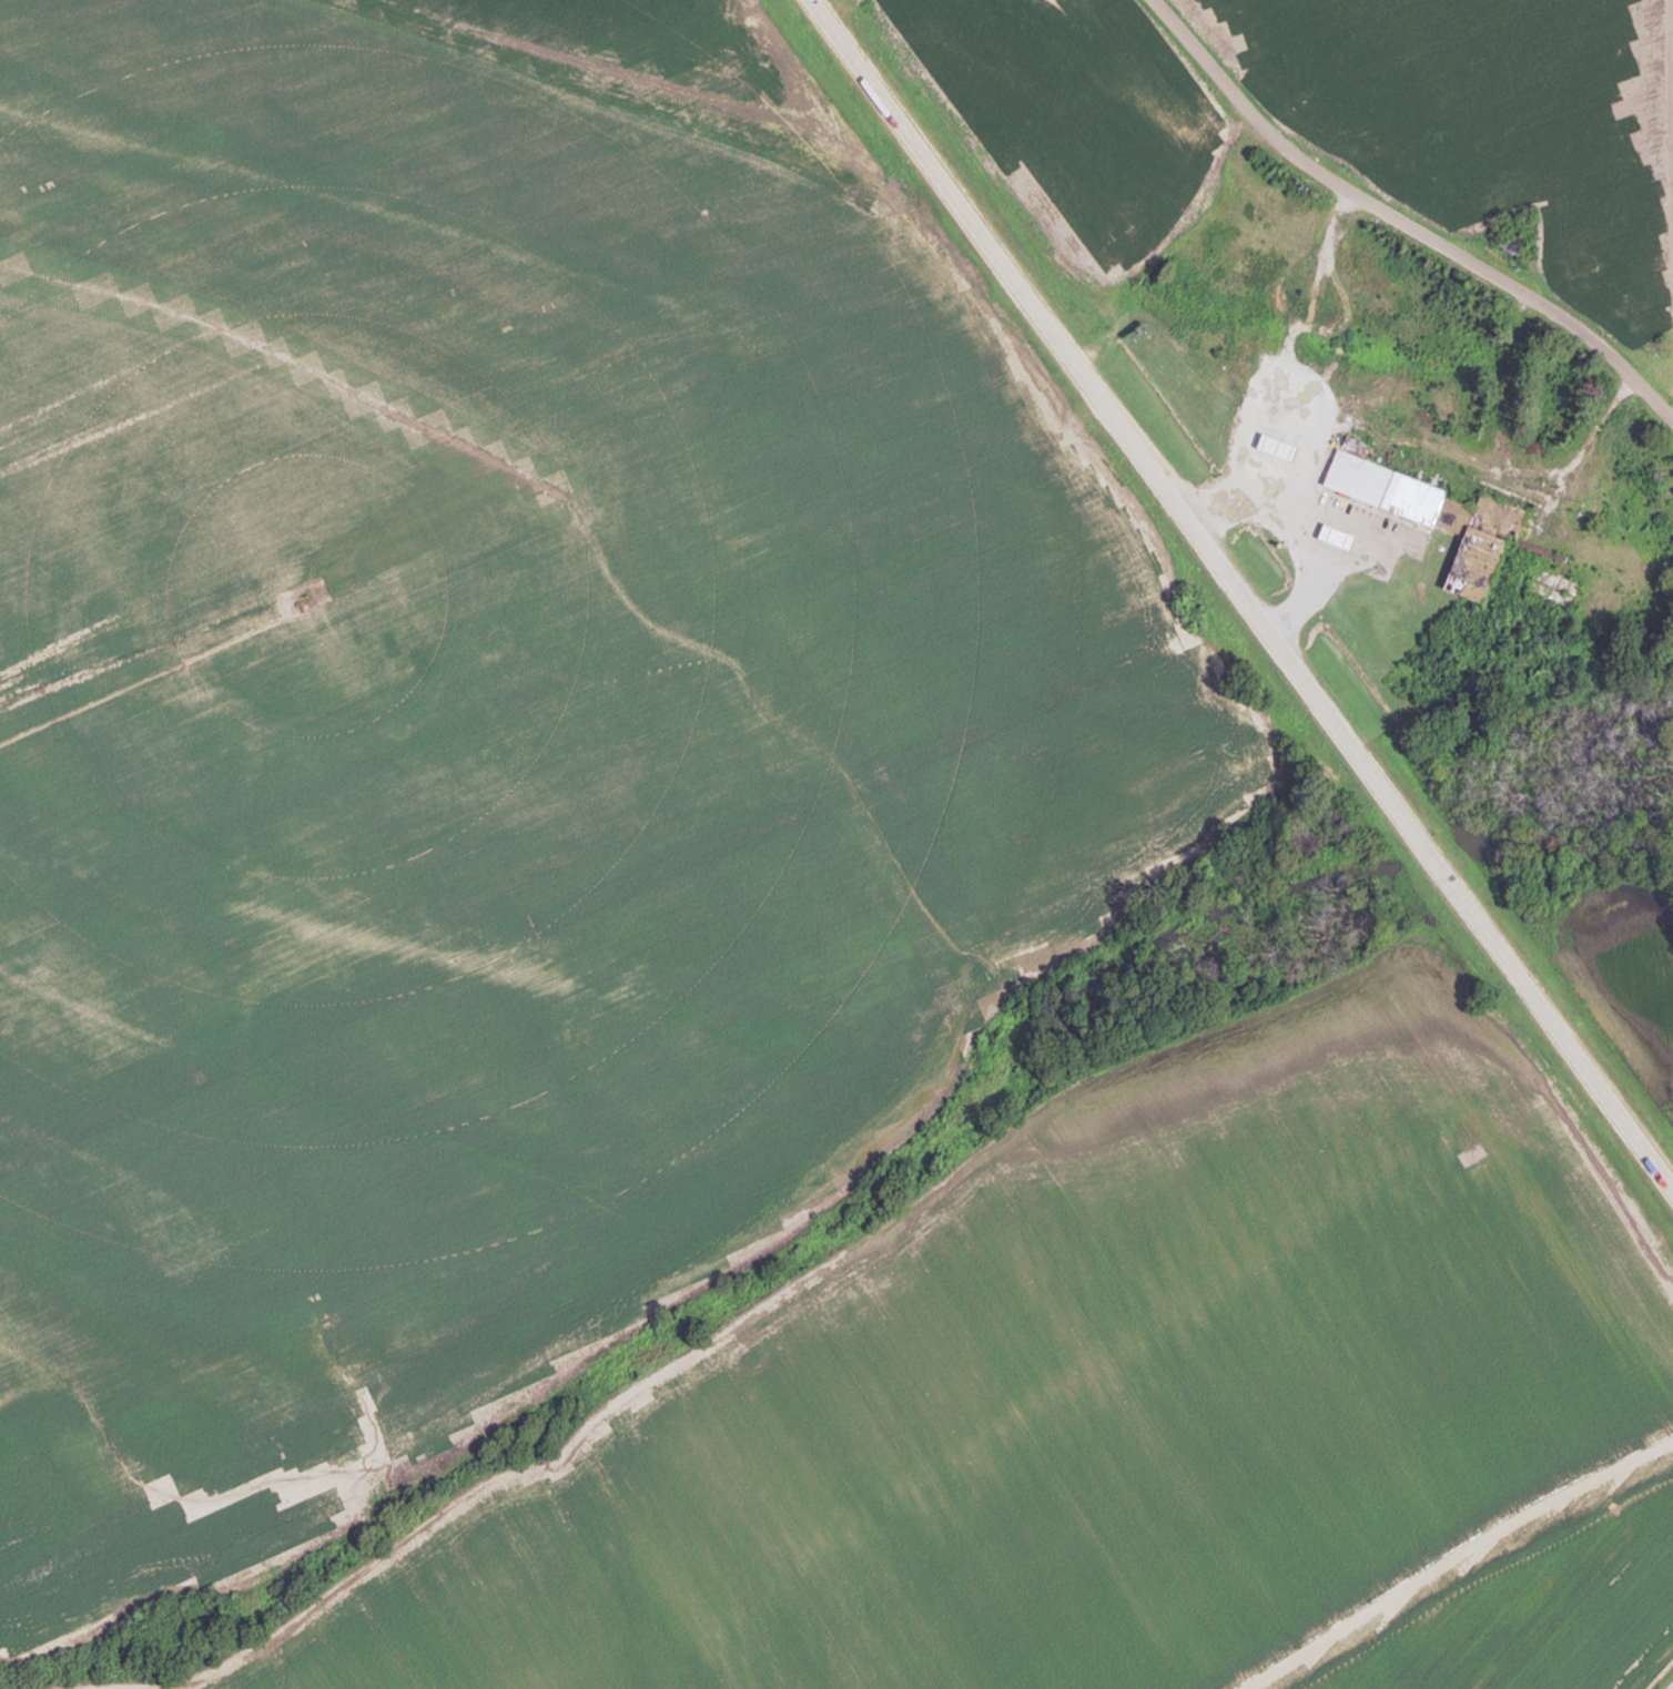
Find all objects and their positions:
road: (1400, 223)
building: (1514, 245)
road: (1291, 339)
building: (1279, 448)
road: (1507, 465)
road: (1291, 499)
building: (1439, 520)
road: (1308, 535)
building: (1339, 538)
road: (1322, 581)
road: (1243, 593)
road: (1531, 1601)

